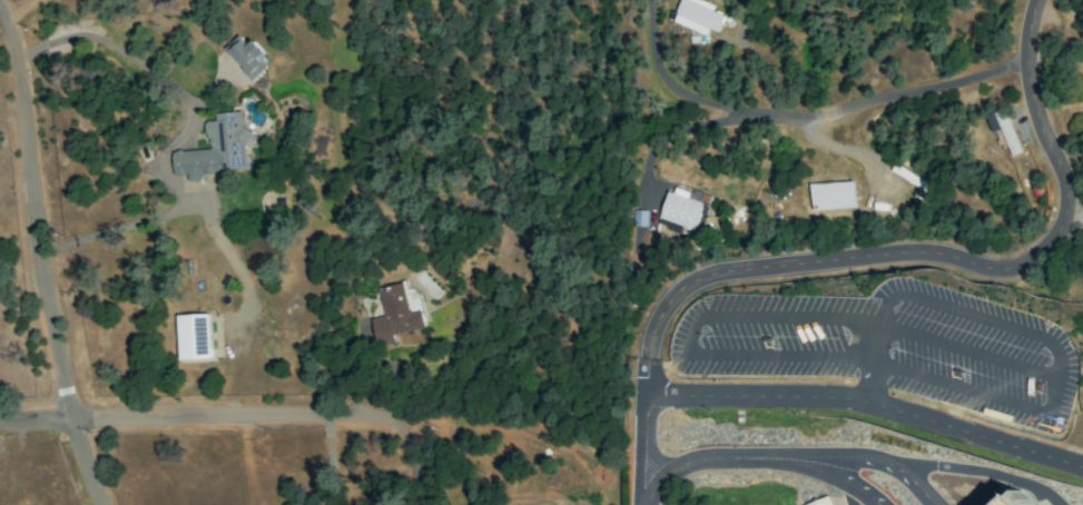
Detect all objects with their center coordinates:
building: (697, 16)
road: (1, 17)
building: (248, 57)
road: (806, 116)
road: (706, 125)
building: (1007, 131)
road: (186, 132)
building: (216, 149)
road: (849, 150)
building: (831, 196)
building: (683, 207)
road: (1075, 215)
road: (48, 257)
road: (941, 257)
building: (412, 299)
road: (920, 300)
road: (769, 311)
building: (394, 316)
building: (194, 337)
parking lot: (885, 346)
road: (993, 400)
road: (869, 407)
road: (325, 418)
road: (40, 428)
road: (646, 450)
road: (765, 459)
road: (332, 462)
road: (944, 469)
road: (914, 484)
building: (1024, 493)
parking lot: (1024, 493)
building: (823, 502)
building: (833, 502)

